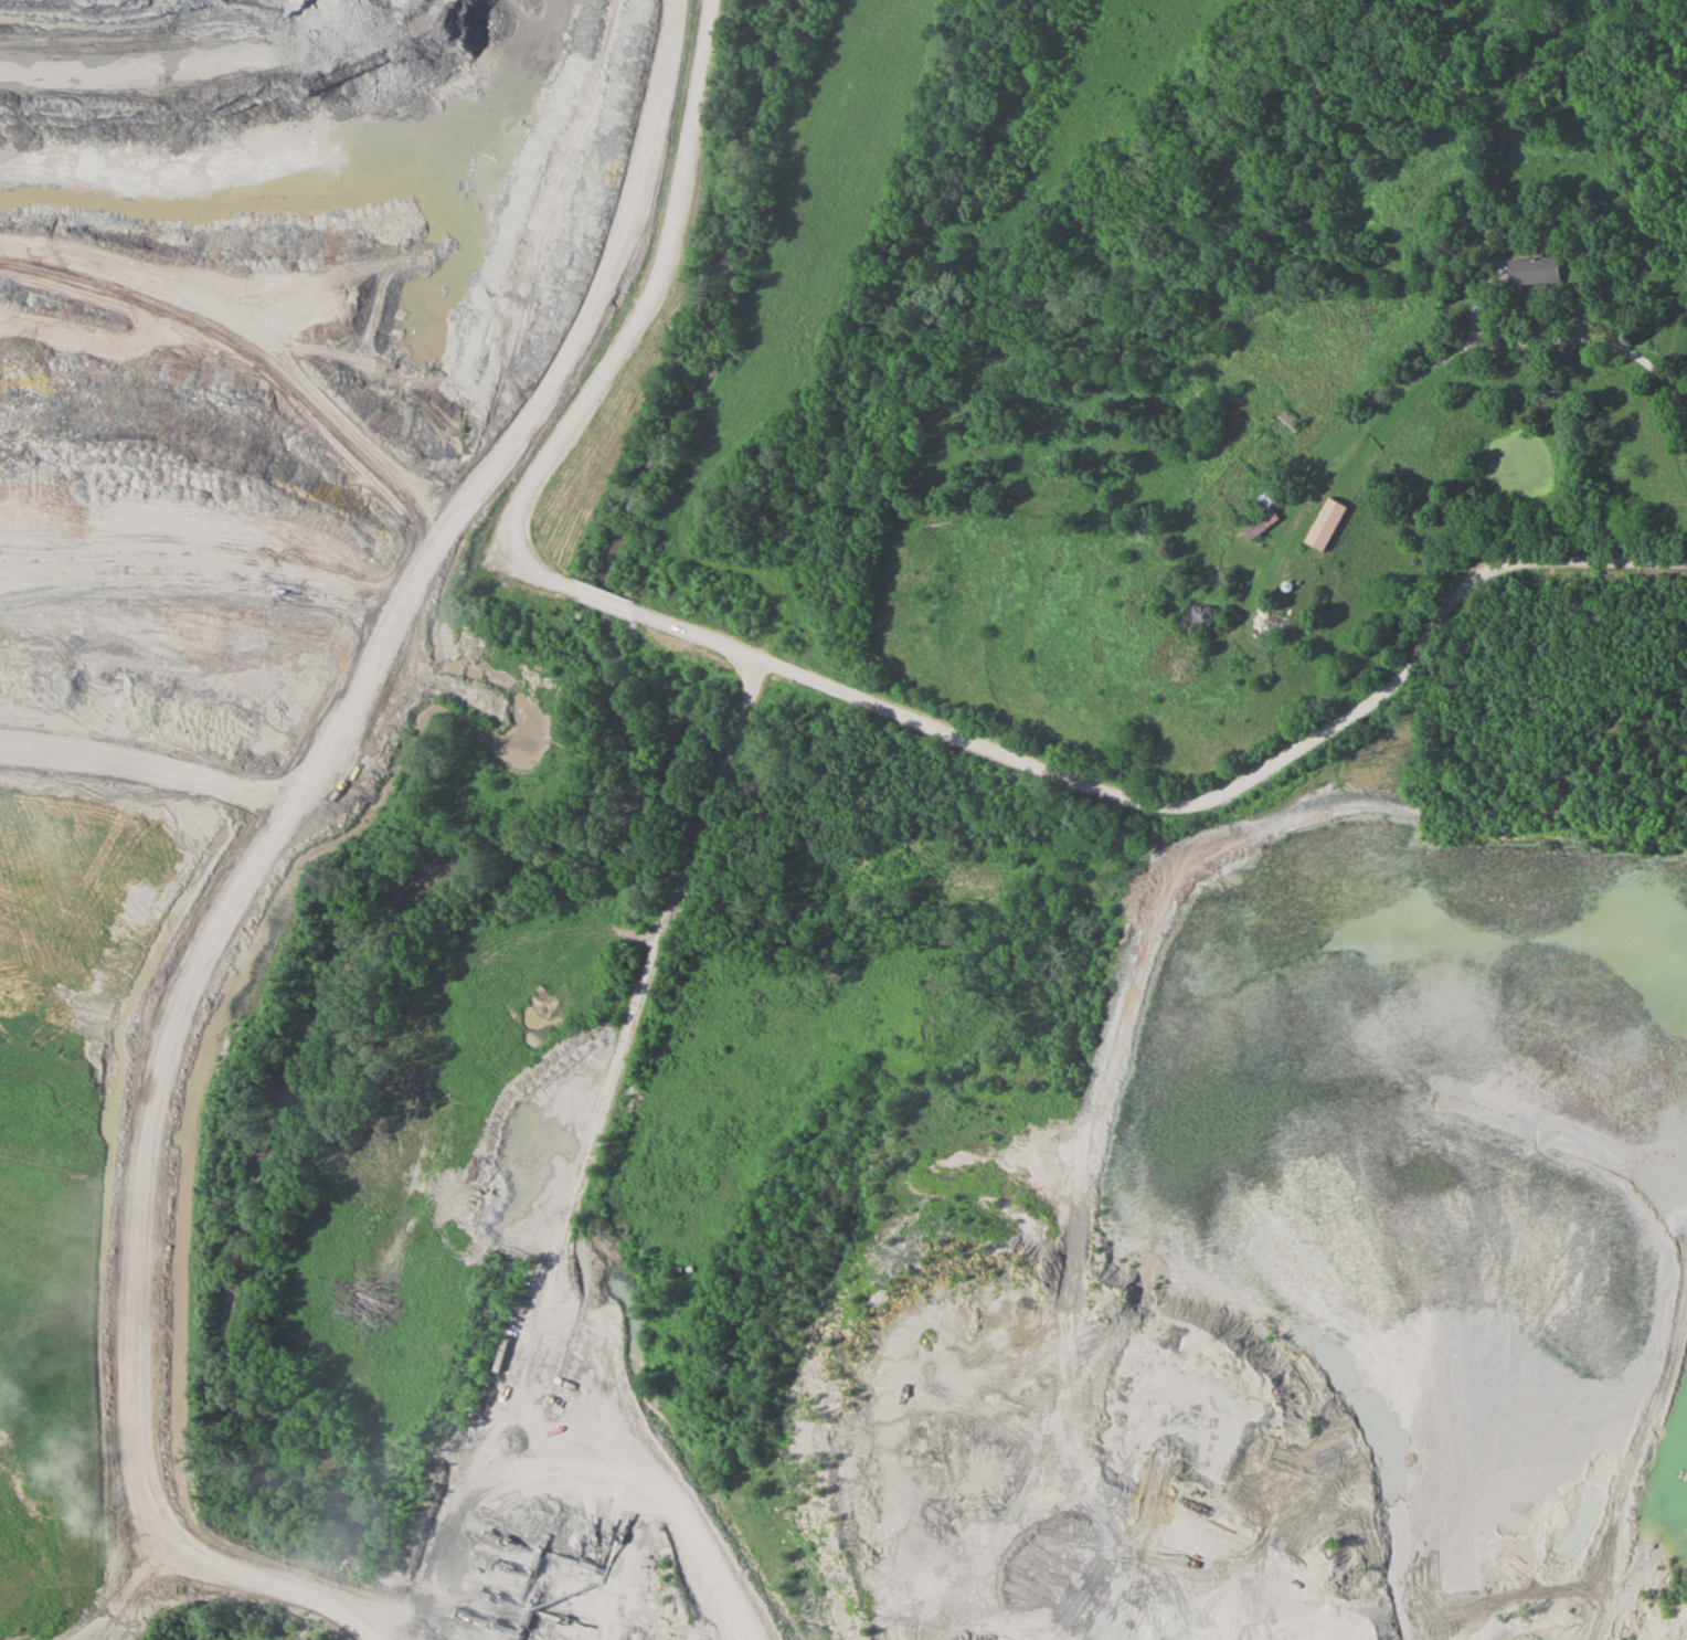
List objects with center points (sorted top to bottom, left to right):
building: (1536, 271)
building: (544, 276)
road: (638, 326)
road: (1454, 360)
building: (1292, 419)
road: (835, 440)
building: (1333, 523)
road: (604, 599)
road: (1191, 811)
road: (235, 1581)
road: (687, 1599)

